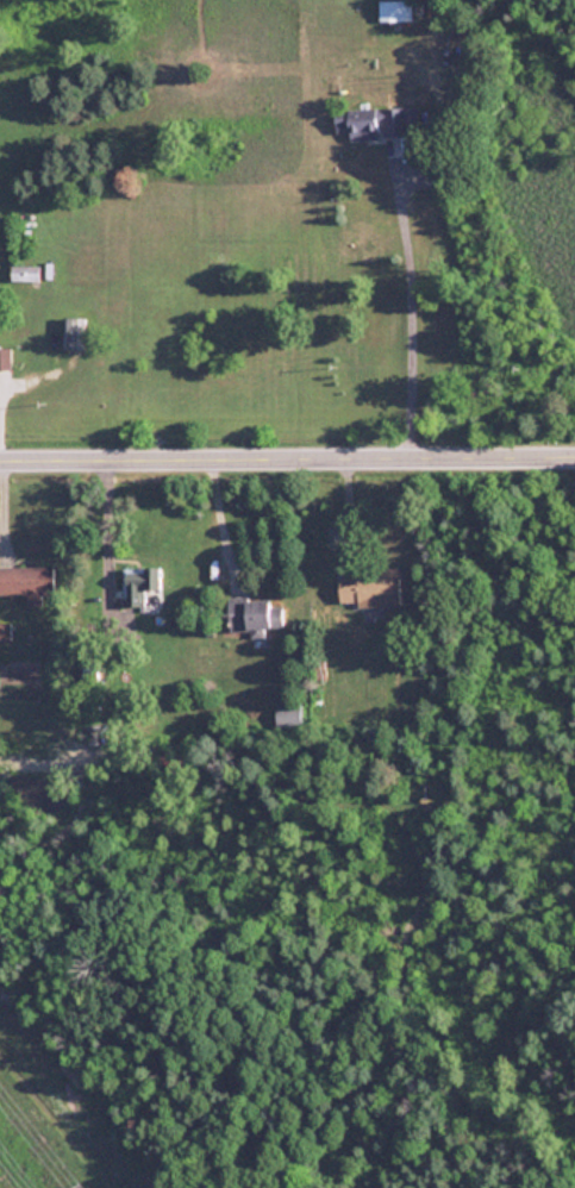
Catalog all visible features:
building: (398, 12)
building: (376, 124)
building: (27, 275)
road: (405, 312)
building: (76, 334)
building: (7, 361)
road: (287, 452)
road: (350, 514)
road: (215, 520)
road: (101, 521)
building: (30, 583)
building: (145, 584)
building: (374, 592)
building: (258, 617)
building: (292, 715)

